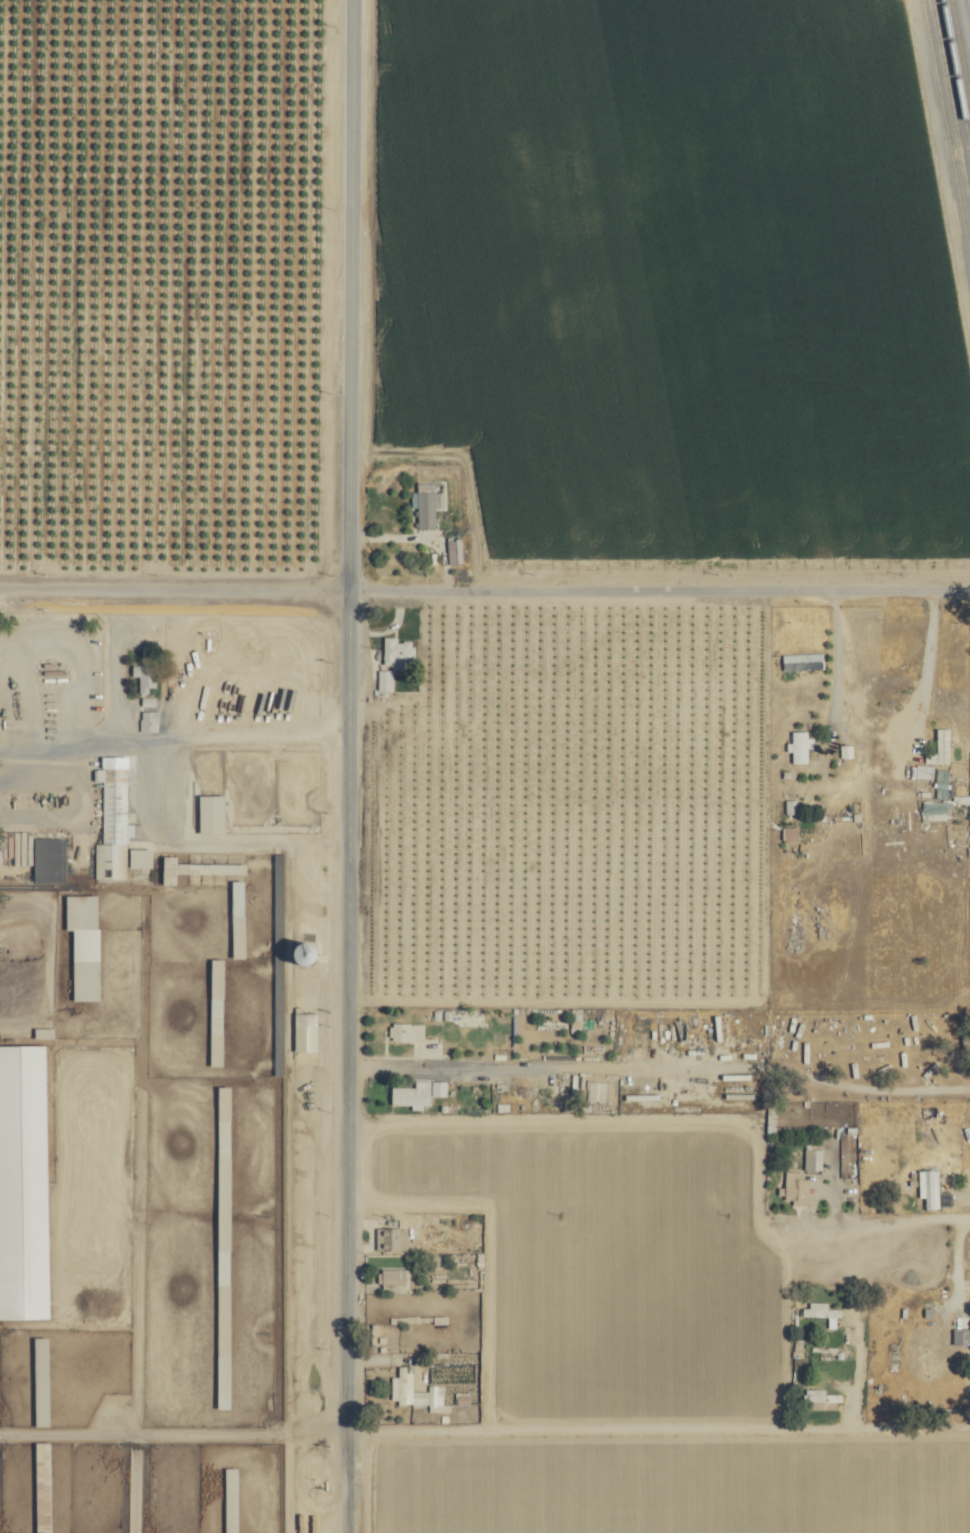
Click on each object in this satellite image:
railway: (968, 7)
railway: (958, 63)
railway: (955, 79)
railway: (952, 94)
railway: (948, 118)
crop: (949, 129)
railway: (944, 141)
road: (355, 291)
building: (429, 507)
building: (455, 551)
road: (177, 581)
road: (662, 582)
road: (834, 645)
building: (398, 651)
building: (803, 660)
road: (924, 664)
building: (145, 676)
building: (385, 679)
building: (148, 700)
building: (151, 716)
building: (800, 745)
building: (941, 747)
building: (846, 750)
building: (925, 770)
building: (213, 813)
road: (154, 817)
building: (114, 819)
building: (141, 857)
building: (239, 918)
building: (85, 944)
building: (218, 982)
road: (759, 991)
building: (407, 1029)
building: (307, 1030)
road: (351, 1057)
building: (28, 1060)
road: (661, 1069)
building: (597, 1089)
building: (418, 1092)
road: (617, 1118)
building: (813, 1158)
building: (930, 1186)
building: (796, 1187)
building: (391, 1237)
road: (484, 1250)
building: (395, 1277)
building: (41, 1305)
building: (823, 1311)
building: (962, 1335)
building: (42, 1380)
building: (415, 1390)
building: (822, 1394)
road: (872, 1428)
road: (577, 1429)
building: (43, 1449)
building: (232, 1499)

